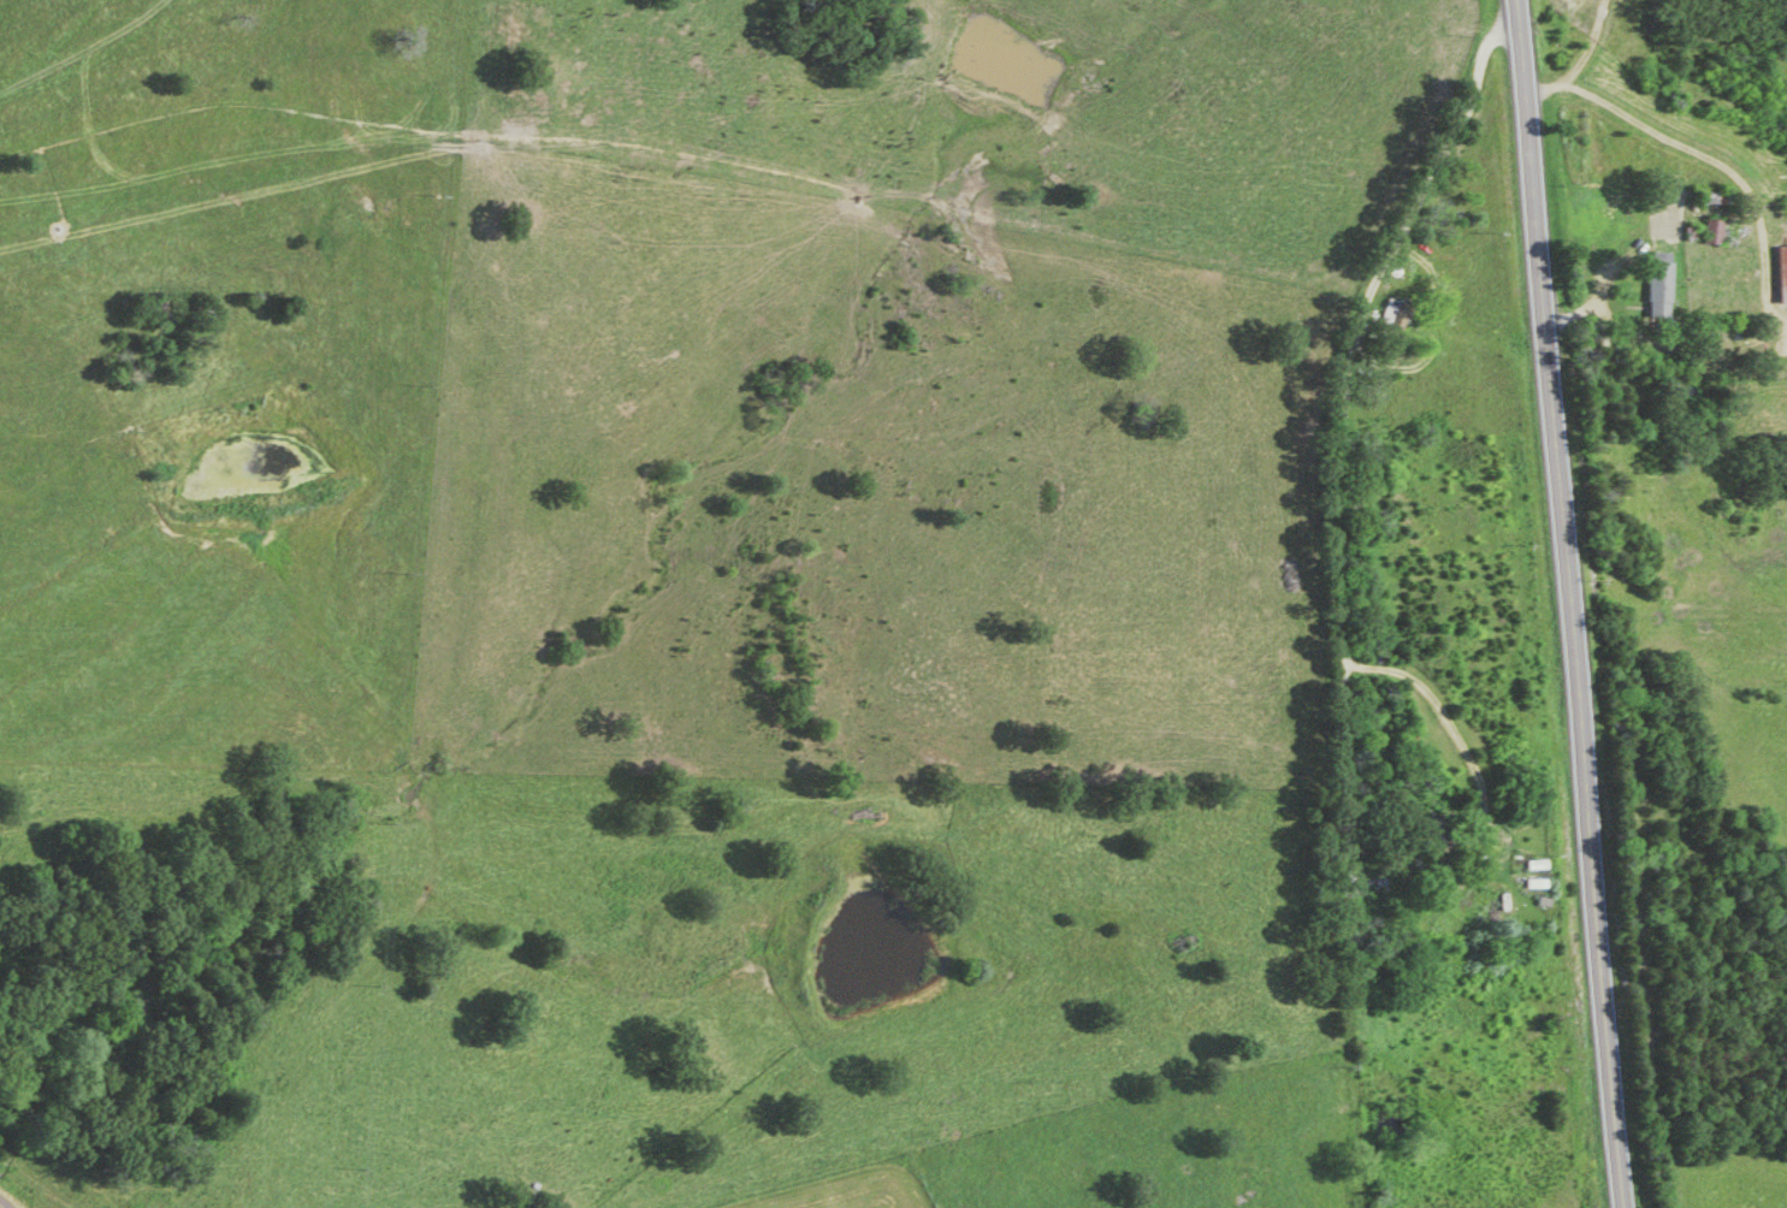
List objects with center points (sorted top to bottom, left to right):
building: (1709, 200)
building: (1716, 235)
building: (1780, 276)
building: (1655, 288)
building: (1392, 316)
road: (1572, 604)
building: (1430, 830)

